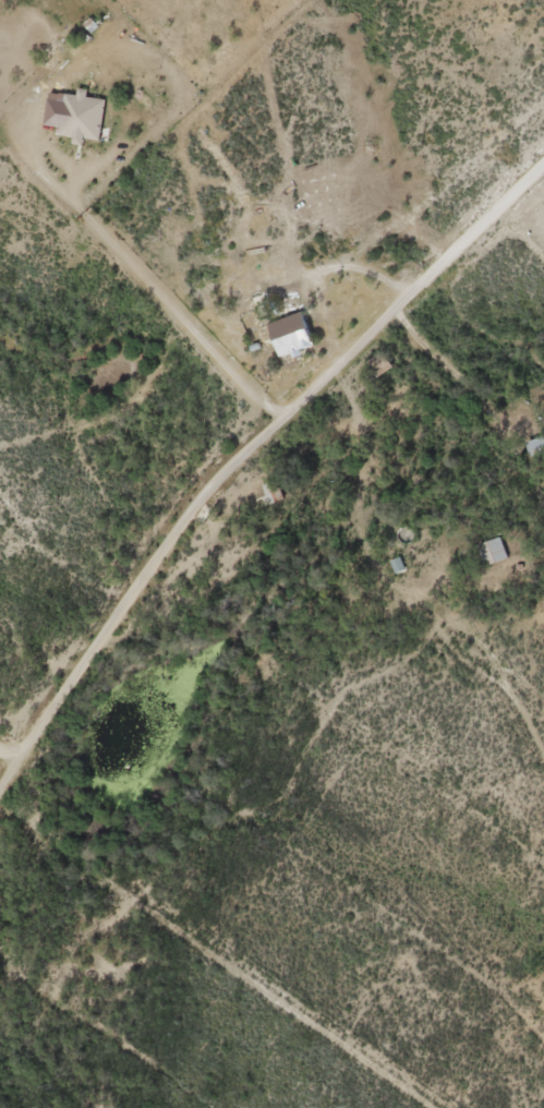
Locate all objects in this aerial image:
building: (128, 81)
building: (83, 112)
building: (295, 332)
road: (353, 409)
building: (535, 439)
building: (494, 546)
road: (172, 567)

